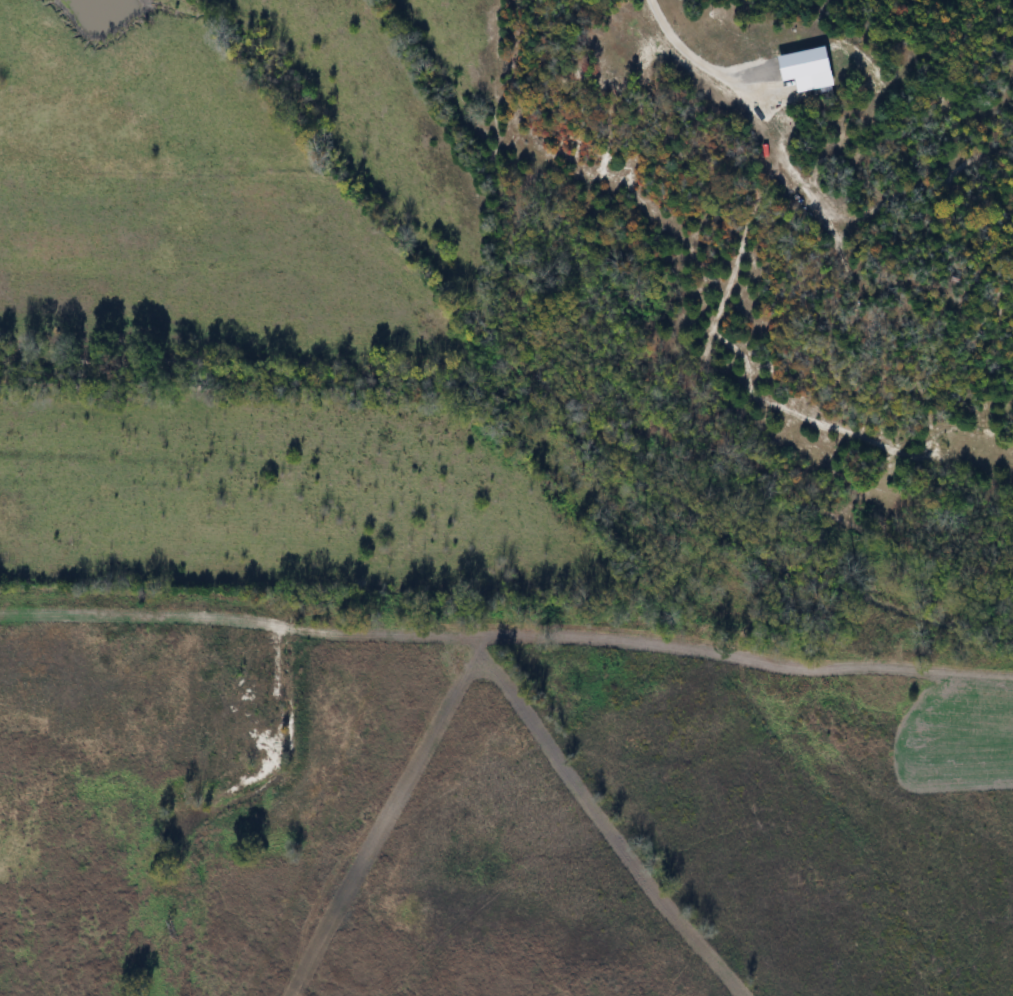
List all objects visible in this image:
road: (694, 55)

